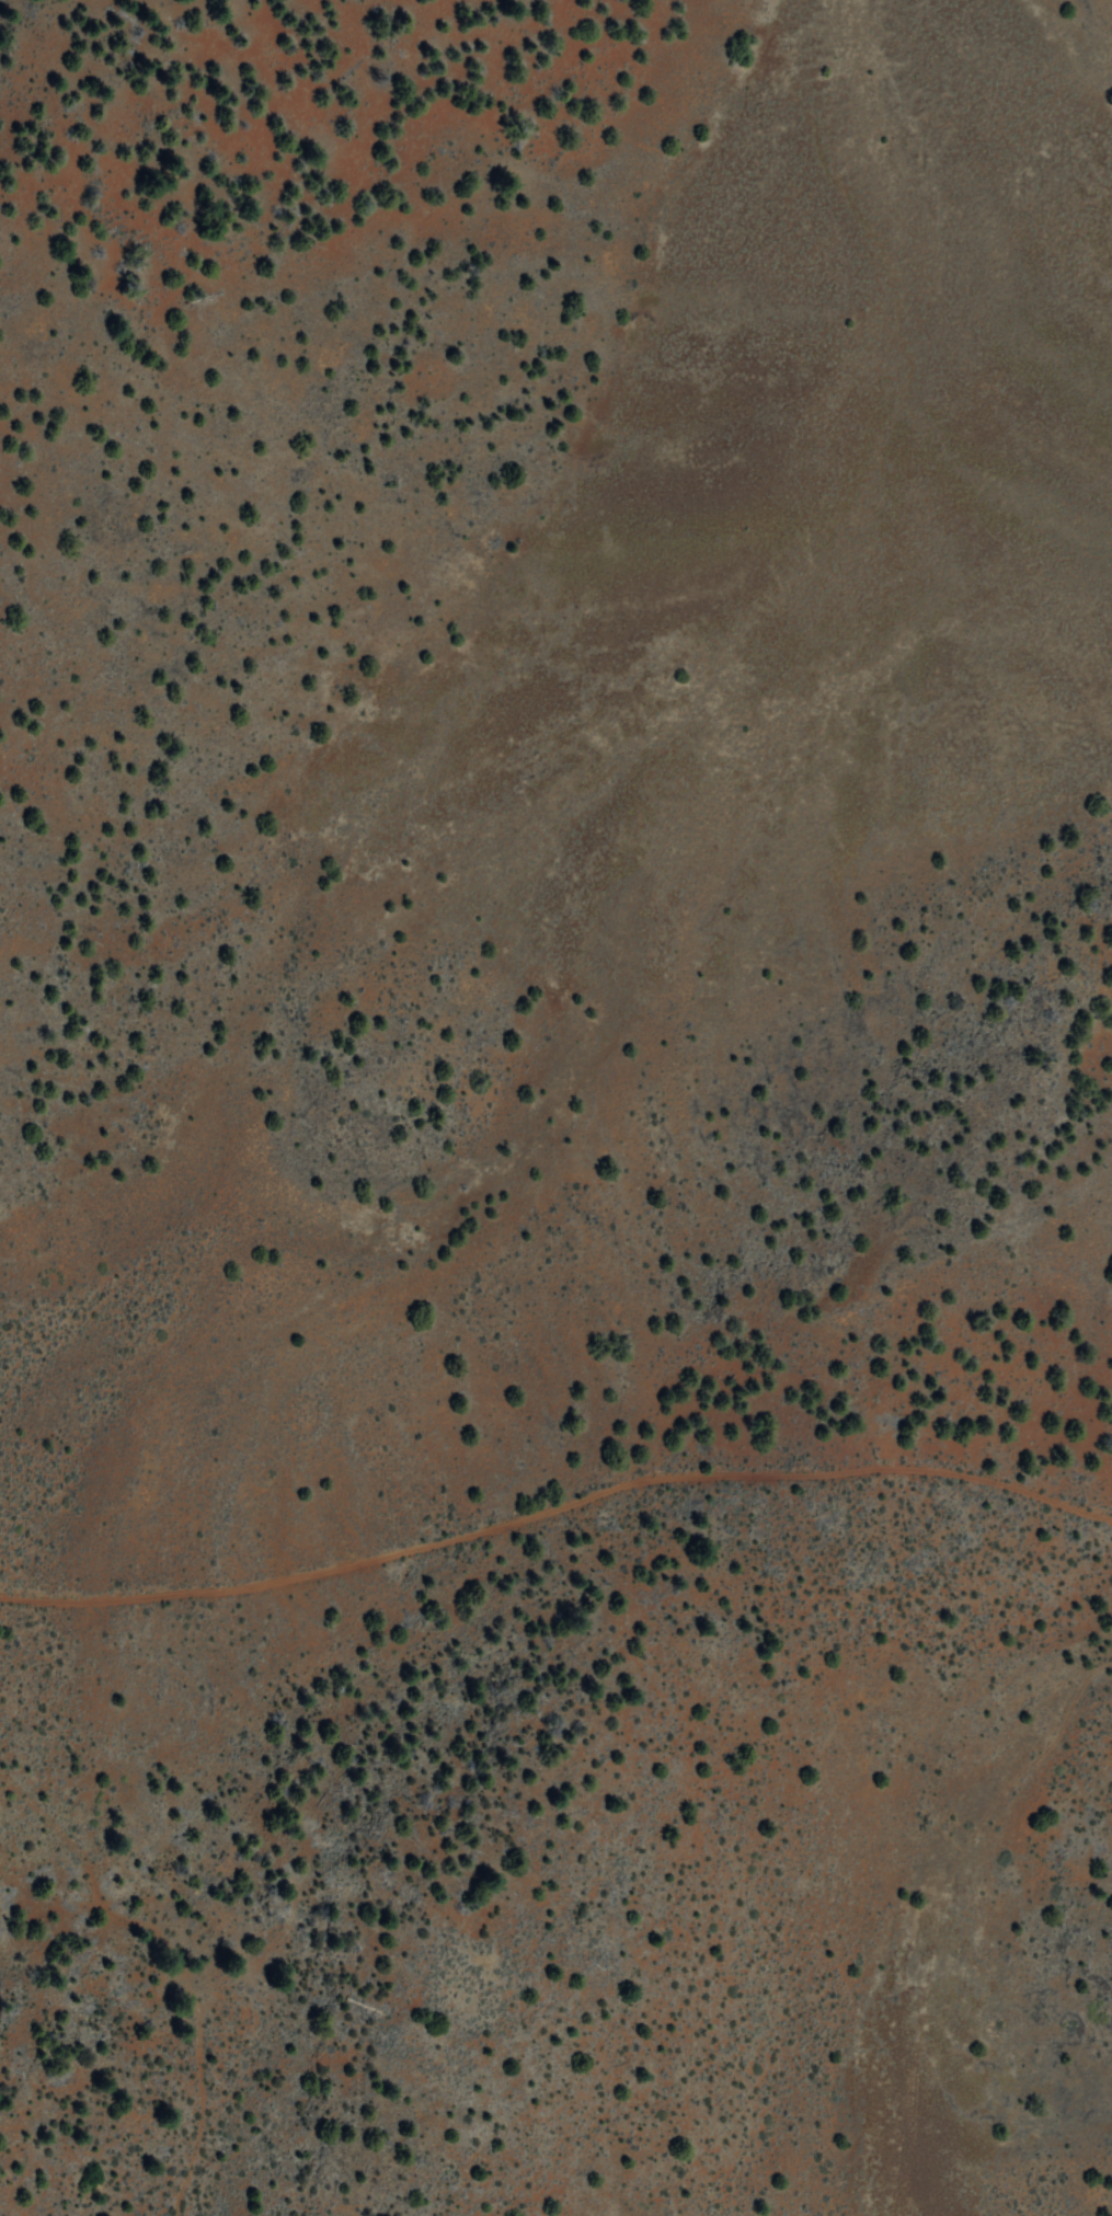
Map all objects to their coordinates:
road: (555, 1507)

